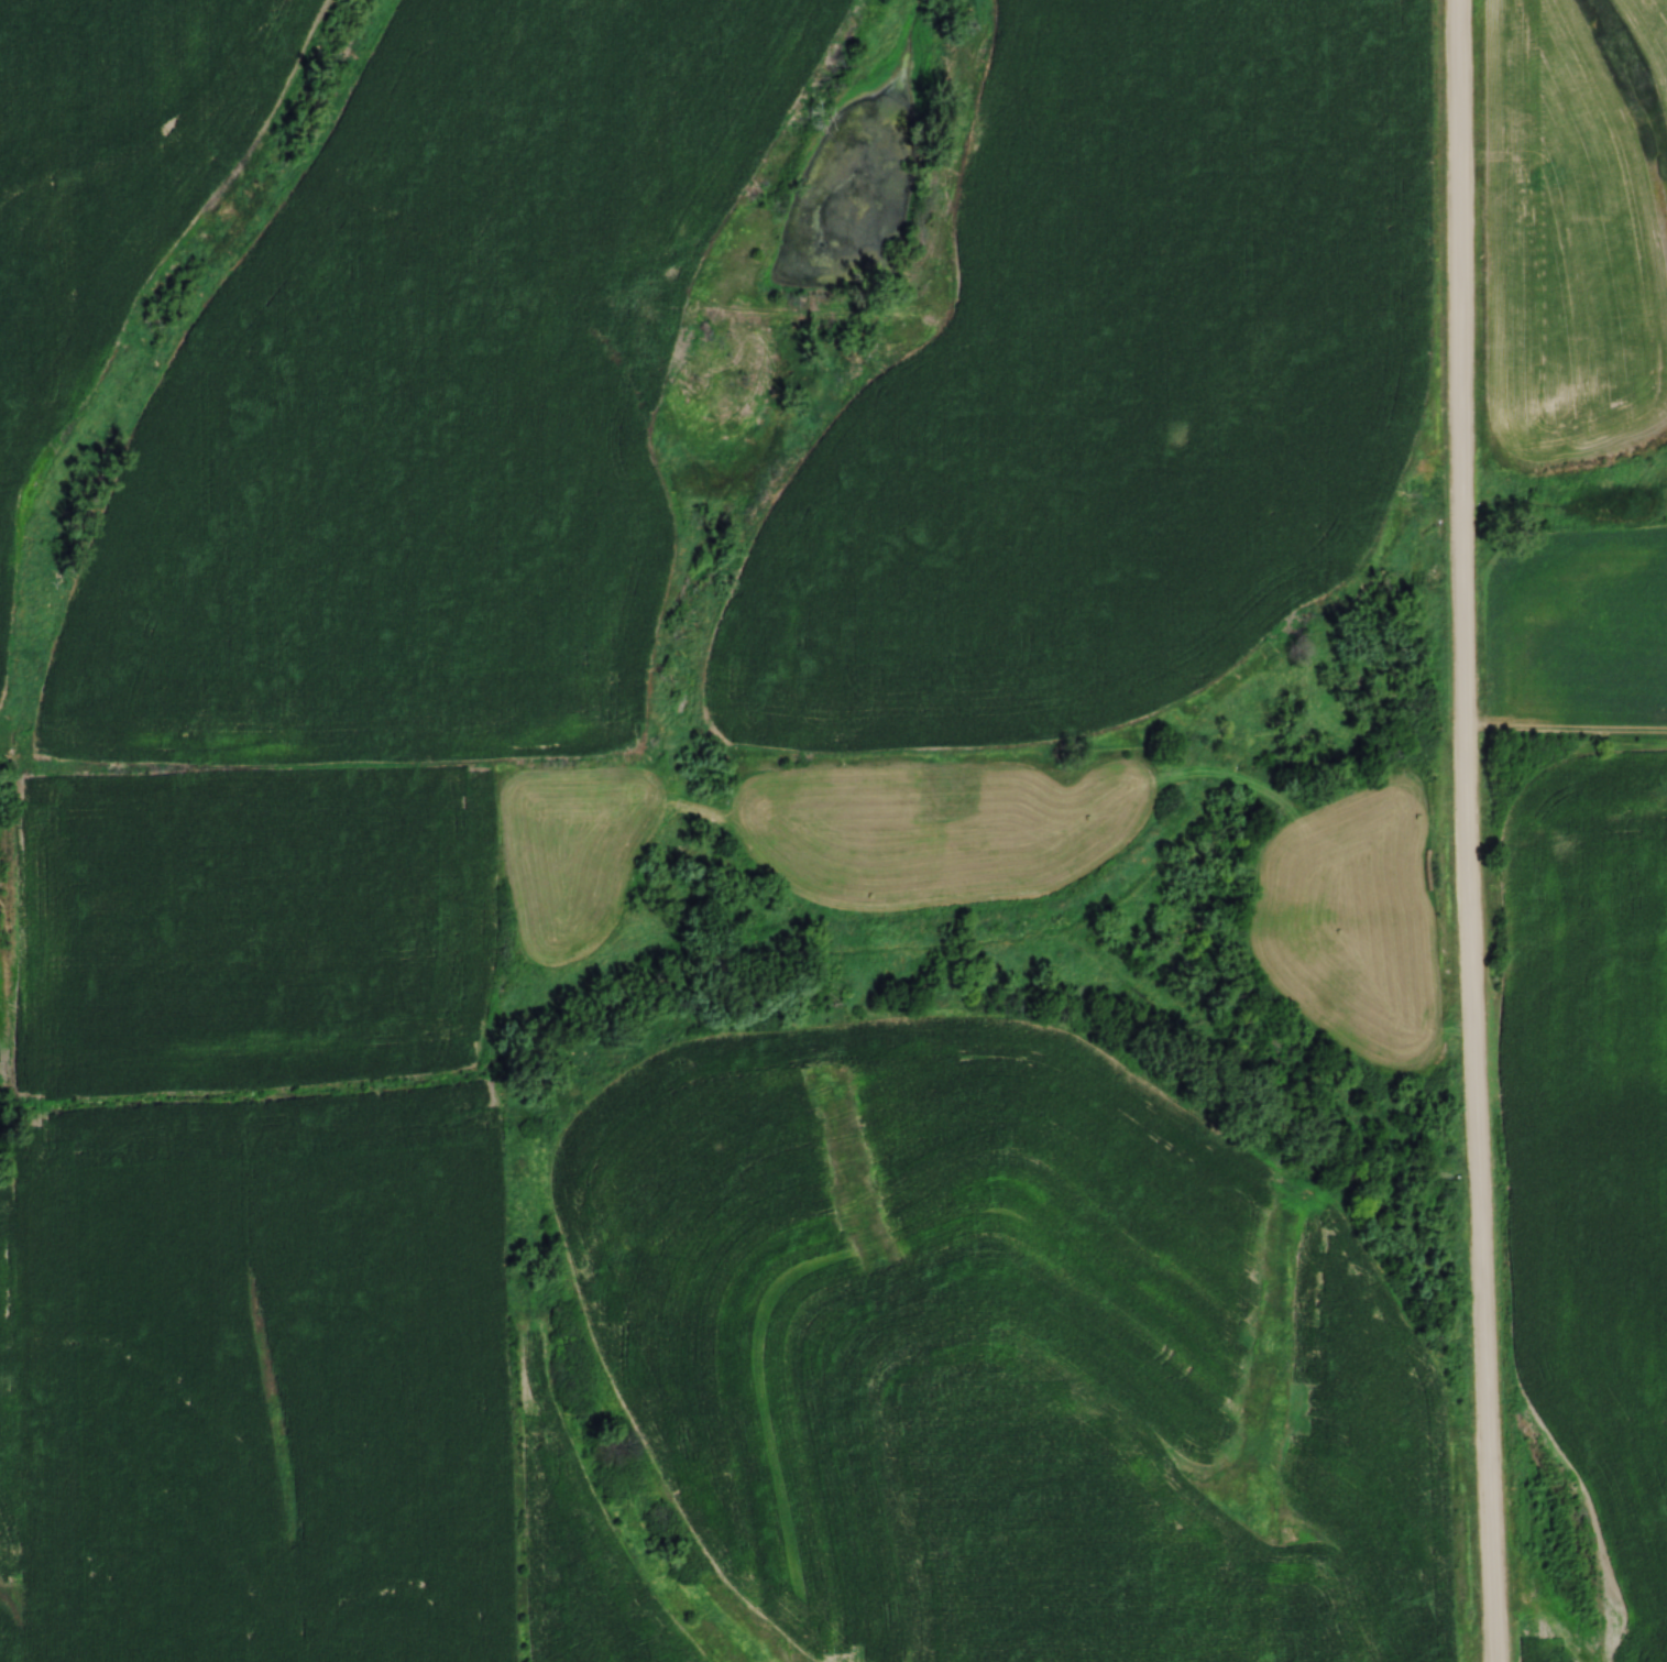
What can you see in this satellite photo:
crop: (1573, 234)
road: (1467, 831)
crop: (1594, 1199)

